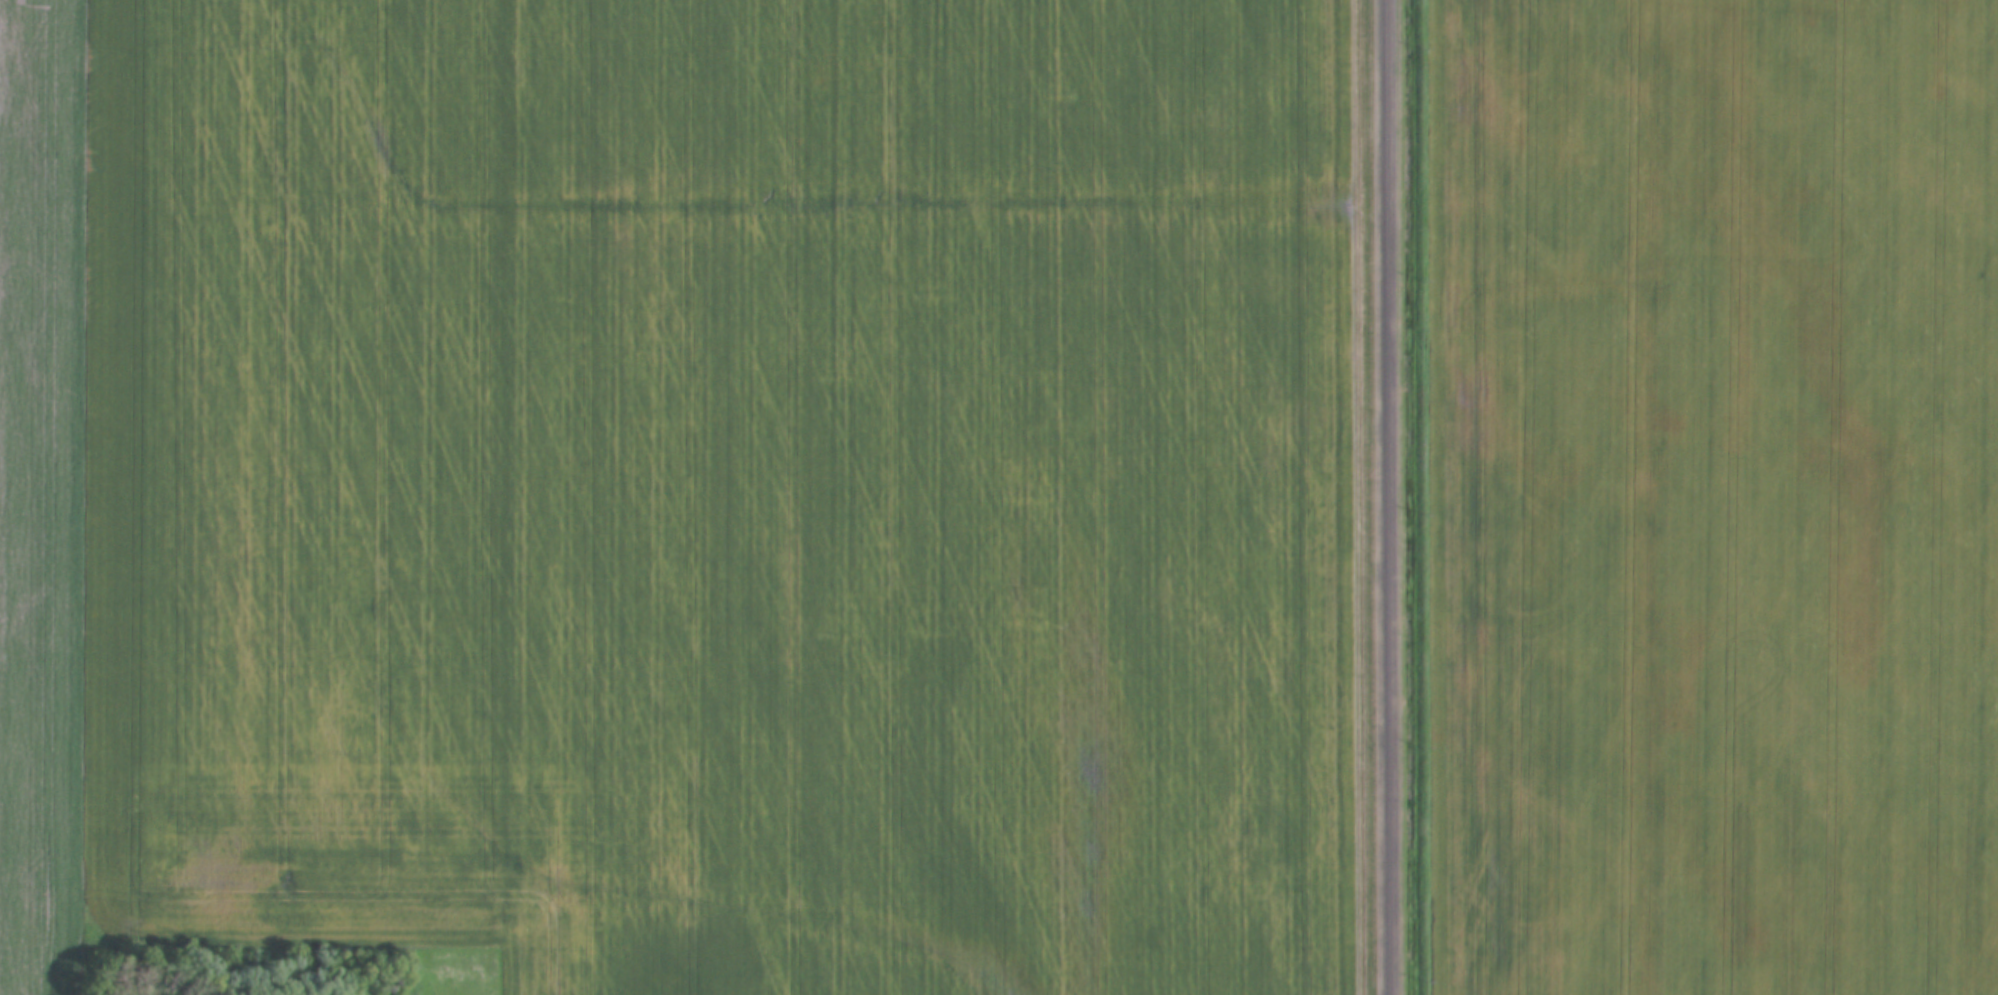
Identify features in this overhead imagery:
road: (1387, 497)

